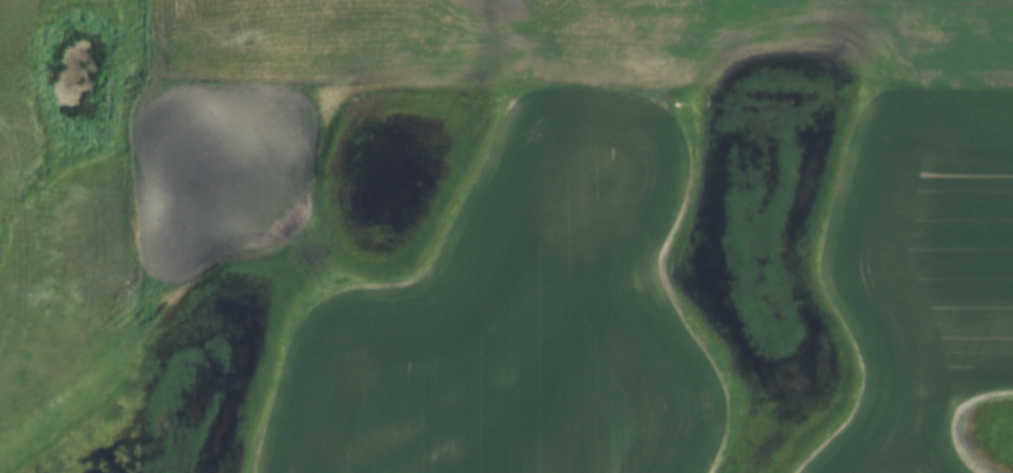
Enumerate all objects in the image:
road: (110, 38)
road: (55, 76)

